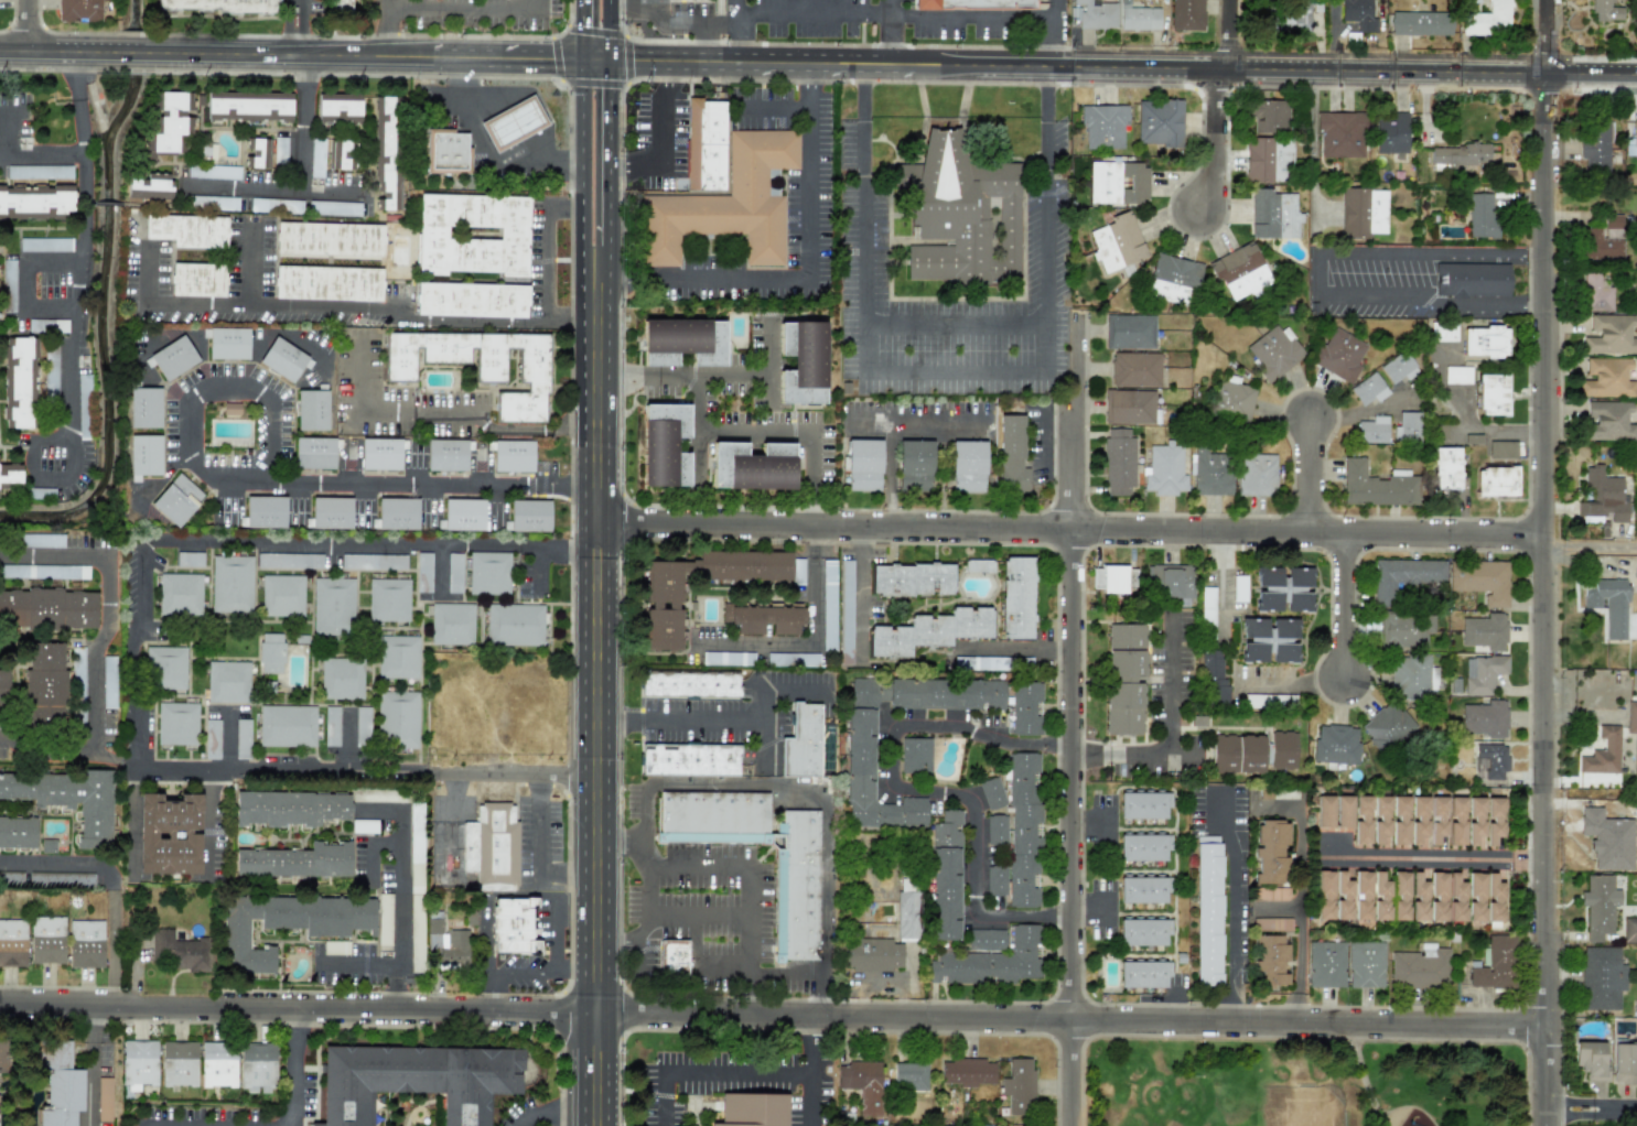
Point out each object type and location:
building: (1471, 1)
building: (974, 3)
road: (633, 4)
building: (217, 6)
building: (340, 6)
road: (464, 8)
building: (79, 10)
building: (1607, 10)
building: (1094, 13)
building: (1186, 14)
building: (1359, 14)
road: (895, 15)
building: (1138, 18)
building: (1289, 18)
building: (1488, 19)
road: (670, 21)
building: (1421, 23)
road: (29, 25)
road: (297, 26)
road: (390, 28)
road: (581, 30)
road: (610, 30)
road: (736, 31)
road: (887, 32)
road: (1055, 33)
road: (1230, 35)
road: (703, 42)
road: (290, 54)
traffic signals: (582, 59)
road: (595, 59)
traffic signals: (610, 61)
road: (1122, 69)
road: (774, 106)
building: (248, 107)
building: (338, 109)
building: (1267, 116)
road: (302, 122)
building: (513, 123)
building: (1160, 123)
building: (170, 126)
building: (1102, 126)
building: (1340, 134)
building: (1391, 136)
road: (659, 139)
road: (1218, 141)
road: (1313, 141)
building: (1631, 142)
building: (704, 145)
building: (1595, 149)
building: (280, 150)
building: (445, 152)
building: (257, 153)
building: (338, 153)
building: (386, 153)
road: (482, 153)
road: (610, 153)
road: (83, 154)
building: (1461, 156)
building: (1260, 161)
road: (582, 167)
building: (63, 171)
building: (213, 172)
building: (1103, 182)
building: (1137, 182)
building: (149, 186)
road: (266, 188)
building: (35, 202)
building: (213, 203)
building: (726, 204)
building: (263, 205)
building: (334, 208)
building: (961, 213)
building: (1363, 213)
building: (1273, 215)
building: (1480, 215)
road: (32, 227)
building: (187, 230)
building: (472, 234)
building: (329, 240)
building: (1603, 241)
building: (1117, 242)
building: (45, 245)
road: (805, 251)
road: (602, 259)
road: (251, 269)
road: (548, 271)
building: (1239, 271)
road: (1318, 277)
building: (1471, 279)
building: (196, 280)
building: (1173, 280)
building: (327, 283)
building: (8, 285)
road: (78, 289)
building: (1596, 293)
building: (471, 300)
road: (317, 312)
road: (74, 317)
building: (56, 325)
road: (952, 326)
building: (1129, 332)
building: (1442, 332)
building: (1609, 333)
building: (682, 342)
building: (1485, 342)
building: (227, 344)
building: (1273, 351)
building: (1338, 355)
building: (173, 358)
building: (283, 360)
building: (803, 364)
building: (478, 366)
building: (1400, 366)
building: (1134, 369)
building: (51, 372)
building: (1456, 373)
road: (757, 376)
road: (949, 376)
building: (1607, 377)
building: (21, 382)
building: (84, 382)
building: (1368, 389)
building: (1491, 393)
building: (1232, 401)
building: (1129, 407)
building: (144, 408)
building: (312, 410)
road: (1359, 410)
road: (443, 413)
road: (1465, 421)
building: (1609, 421)
building: (1410, 426)
road: (866, 427)
building: (1372, 430)
road: (725, 431)
road: (890, 431)
building: (1472, 437)
road: (15, 445)
building: (664, 445)
building: (1501, 448)
building: (314, 453)
road: (700, 453)
building: (380, 454)
building: (144, 455)
building: (445, 455)
building: (1012, 455)
building: (511, 456)
building: (1118, 461)
building: (863, 465)
building: (915, 465)
building: (752, 466)
building: (968, 466)
building: (1445, 467)
road: (1308, 469)
building: (1164, 470)
building: (1210, 472)
building: (10, 473)
building: (1256, 475)
building: (1495, 481)
building: (1376, 486)
road: (269, 488)
building: (1604, 496)
building: (176, 500)
building: (265, 511)
building: (331, 512)
building: (397, 513)
building: (463, 515)
building: (529, 516)
road: (595, 524)
road: (1069, 530)
building: (39, 540)
road: (1591, 548)
road: (556, 550)
building: (189, 559)
building: (289, 560)
building: (373, 561)
road: (1544, 562)
building: (978, 565)
building: (750, 566)
building: (1635, 566)
building: (44, 572)
building: (423, 572)
building: (454, 573)
building: (488, 573)
building: (1404, 575)
building: (1118, 578)
building: (912, 580)
building: (1170, 581)
building: (1482, 581)
building: (231, 584)
road: (1219, 586)
building: (1282, 589)
road: (859, 593)
building: (180, 595)
building: (281, 595)
building: (1016, 598)
building: (388, 599)
building: (666, 602)
building: (828, 605)
road: (1346, 605)
building: (333, 606)
building: (1609, 606)
building: (46, 609)
building: (846, 611)
road: (140, 615)
building: (762, 618)
building: (451, 624)
building: (514, 625)
building: (1407, 629)
building: (929, 631)
building: (1484, 631)
road: (806, 639)
building: (1253, 640)
building: (1283, 641)
road: (1013, 648)
building: (271, 653)
building: (397, 657)
building: (728, 658)
road: (87, 659)
building: (793, 659)
building: (165, 668)
building: (1482, 673)
building: (1213, 676)
building: (1409, 676)
building: (342, 679)
building: (108, 682)
building: (227, 682)
road: (1291, 683)
building: (45, 685)
building: (689, 685)
building: (3, 686)
building: (77, 690)
building: (946, 694)
building: (1275, 700)
building: (1024, 710)
building: (1631, 717)
building: (1485, 718)
building: (397, 719)
road: (1071, 721)
building: (176, 724)
road: (728, 725)
building: (287, 726)
building: (331, 726)
building: (362, 727)
building: (1389, 727)
road: (1171, 734)
building: (212, 739)
building: (241, 739)
building: (801, 743)
building: (1336, 744)
building: (1282, 749)
building: (1237, 754)
building: (1602, 754)
building: (915, 755)
building: (690, 759)
building: (1493, 760)
building: (871, 767)
road: (509, 773)
road: (749, 786)
road: (923, 791)
building: (991, 793)
building: (373, 795)
building: (67, 799)
building: (1142, 805)
building: (289, 809)
building: (1324, 811)
building: (1343, 812)
road: (207, 813)
building: (1380, 818)
building: (1419, 818)
building: (1436, 819)
road: (131, 820)
building: (1361, 820)
building: (1400, 820)
building: (1475, 820)
building: (1494, 820)
building: (1456, 821)
road: (450, 822)
road: (595, 825)
building: (364, 826)
building: (1020, 829)
building: (17, 833)
building: (168, 834)
road: (622, 837)
building: (47, 846)
road: (368, 847)
building: (491, 847)
building: (1142, 847)
building: (416, 849)
building: (1271, 851)
road: (537, 853)
road: (622, 854)
road: (1301, 857)
road: (1423, 858)
building: (295, 860)
road: (58, 864)
road: (751, 866)
building: (11, 876)
building: (946, 877)
building: (61, 879)
building: (995, 880)
road: (111, 886)
building: (1142, 889)
road: (400, 894)
building: (1269, 894)
building: (1361, 895)
building: (1324, 896)
building: (1400, 896)
building: (1437, 896)
building: (1343, 897)
building: (1380, 897)
building: (1418, 897)
building: (1475, 897)
building: (1456, 898)
building: (1494, 898)
building: (795, 901)
building: (1207, 910)
road: (1237, 912)
road: (700, 914)
building: (384, 919)
building: (287, 923)
building: (1272, 924)
building: (514, 927)
building: (1629, 930)
building: (1141, 932)
building: (986, 939)
building: (46, 940)
road: (487, 940)
building: (883, 940)
building: (446, 942)
road: (699, 942)
building: (12, 943)
building: (85, 944)
building: (335, 948)
road: (112, 949)
building: (179, 951)
building: (672, 956)
building: (1270, 960)
building: (989, 962)
building: (1325, 964)
building: (1365, 964)
building: (1494, 964)
road: (1296, 965)
building: (1420, 967)
road: (762, 971)
road: (519, 972)
building: (1143, 974)
building: (1602, 977)
road: (595, 1000)
road: (772, 1017)
building: (3, 1055)
building: (1591, 1059)
building: (1625, 1059)
building: (179, 1063)
building: (139, 1064)
building: (218, 1064)
road: (88, 1065)
building: (258, 1067)
road: (293, 1068)
building: (968, 1069)
road: (811, 1072)
road: (710, 1074)
road: (1363, 1074)
building: (909, 1076)
building: (414, 1081)
building: (57, 1083)
park: (1301, 1083)
building: (863, 1084)
building: (1020, 1084)
building: (105, 1098)
road: (553, 1109)
building: (752, 1109)
road: (1591, 1113)

